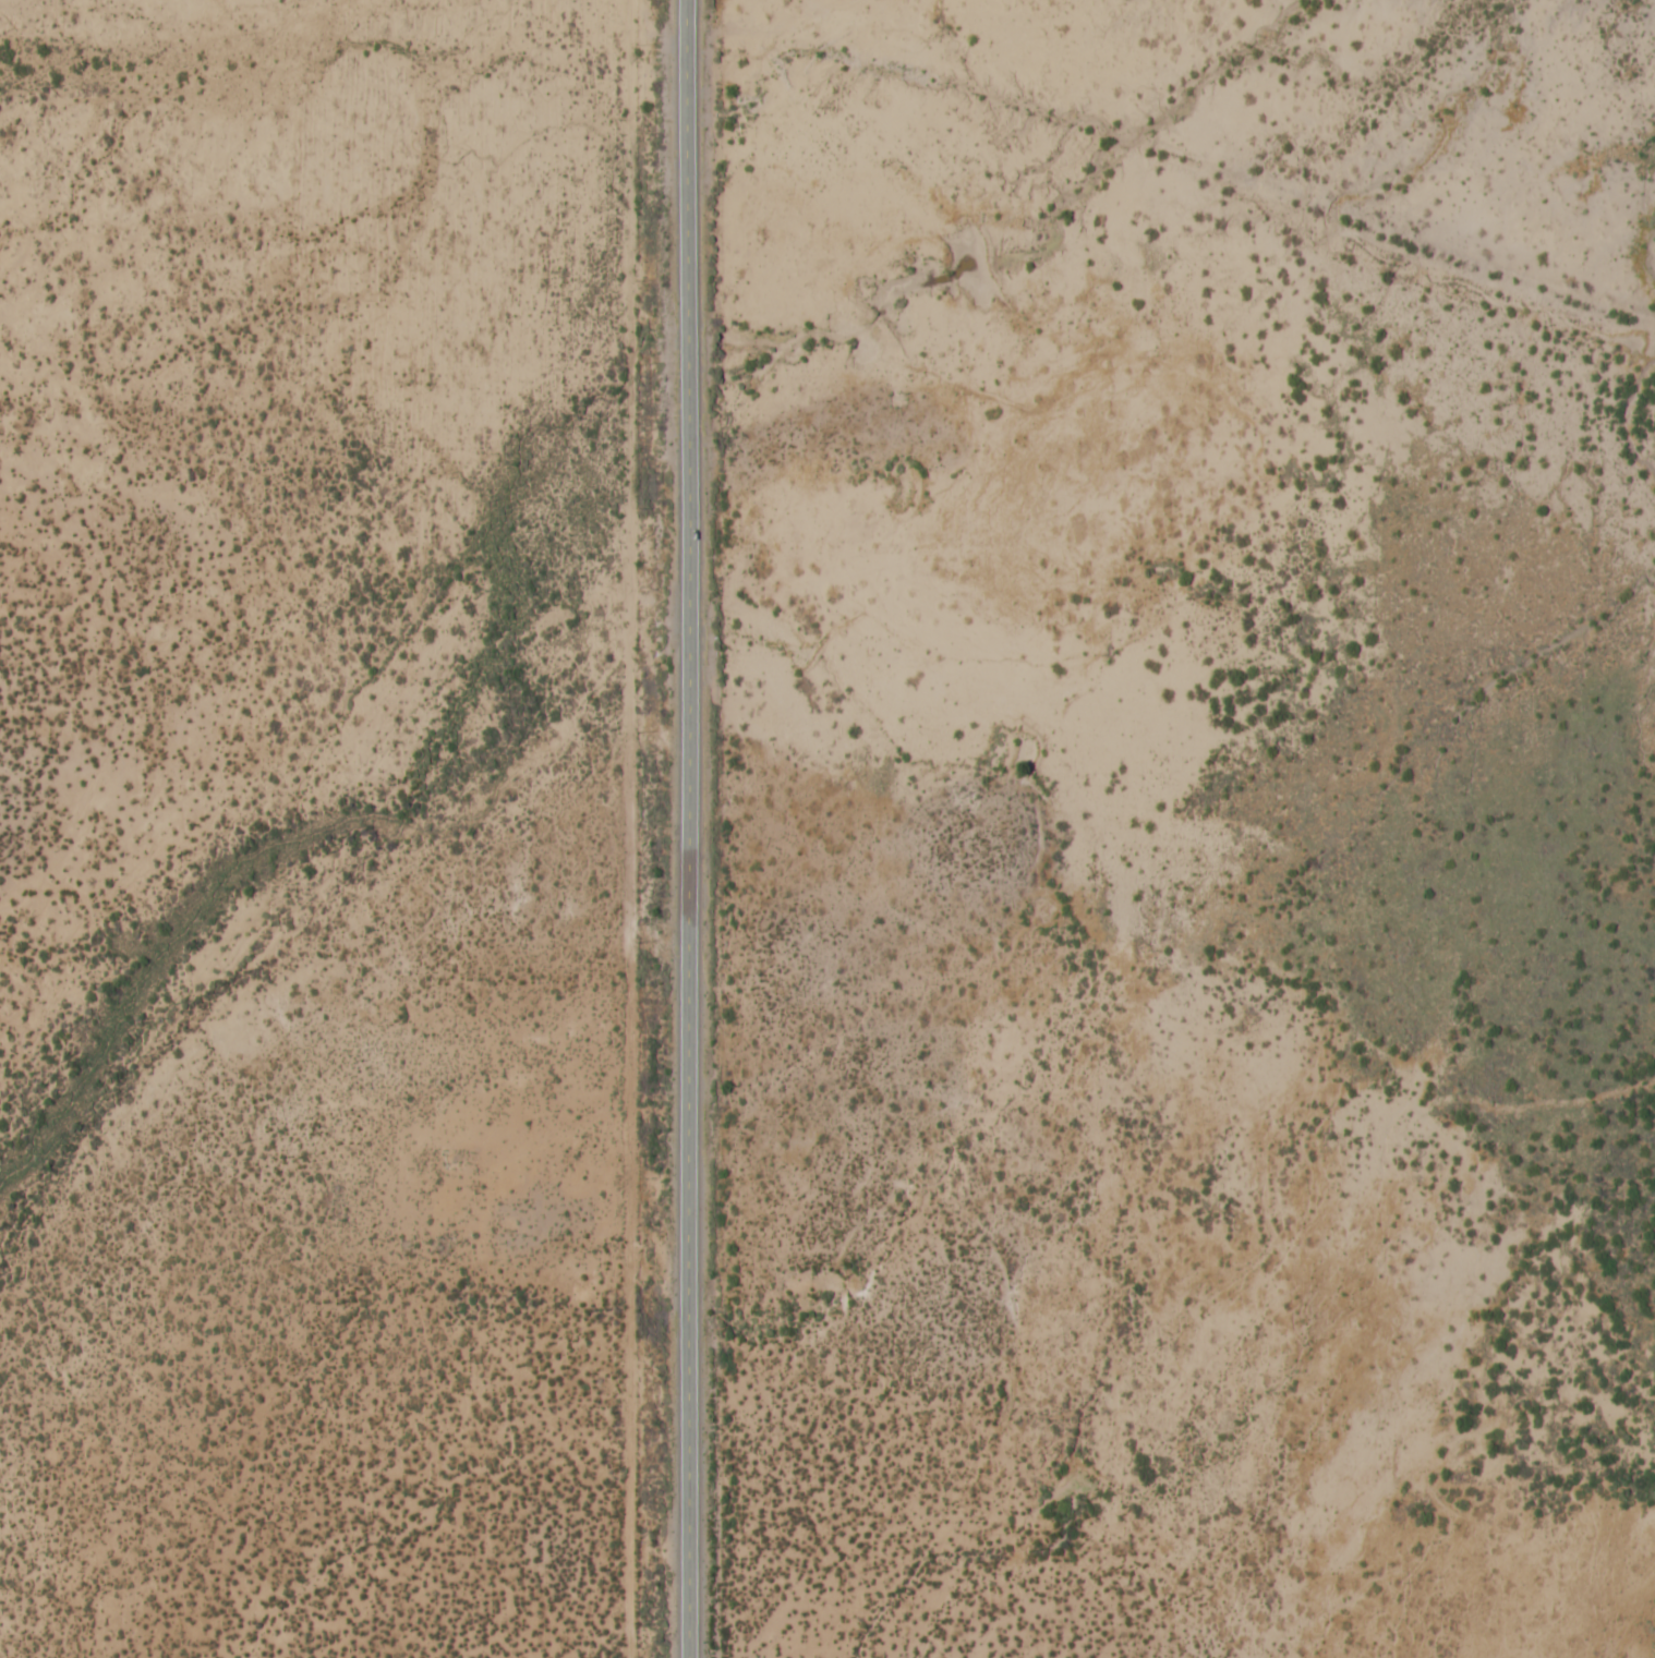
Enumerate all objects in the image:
road: (629, 828)
road: (682, 828)

